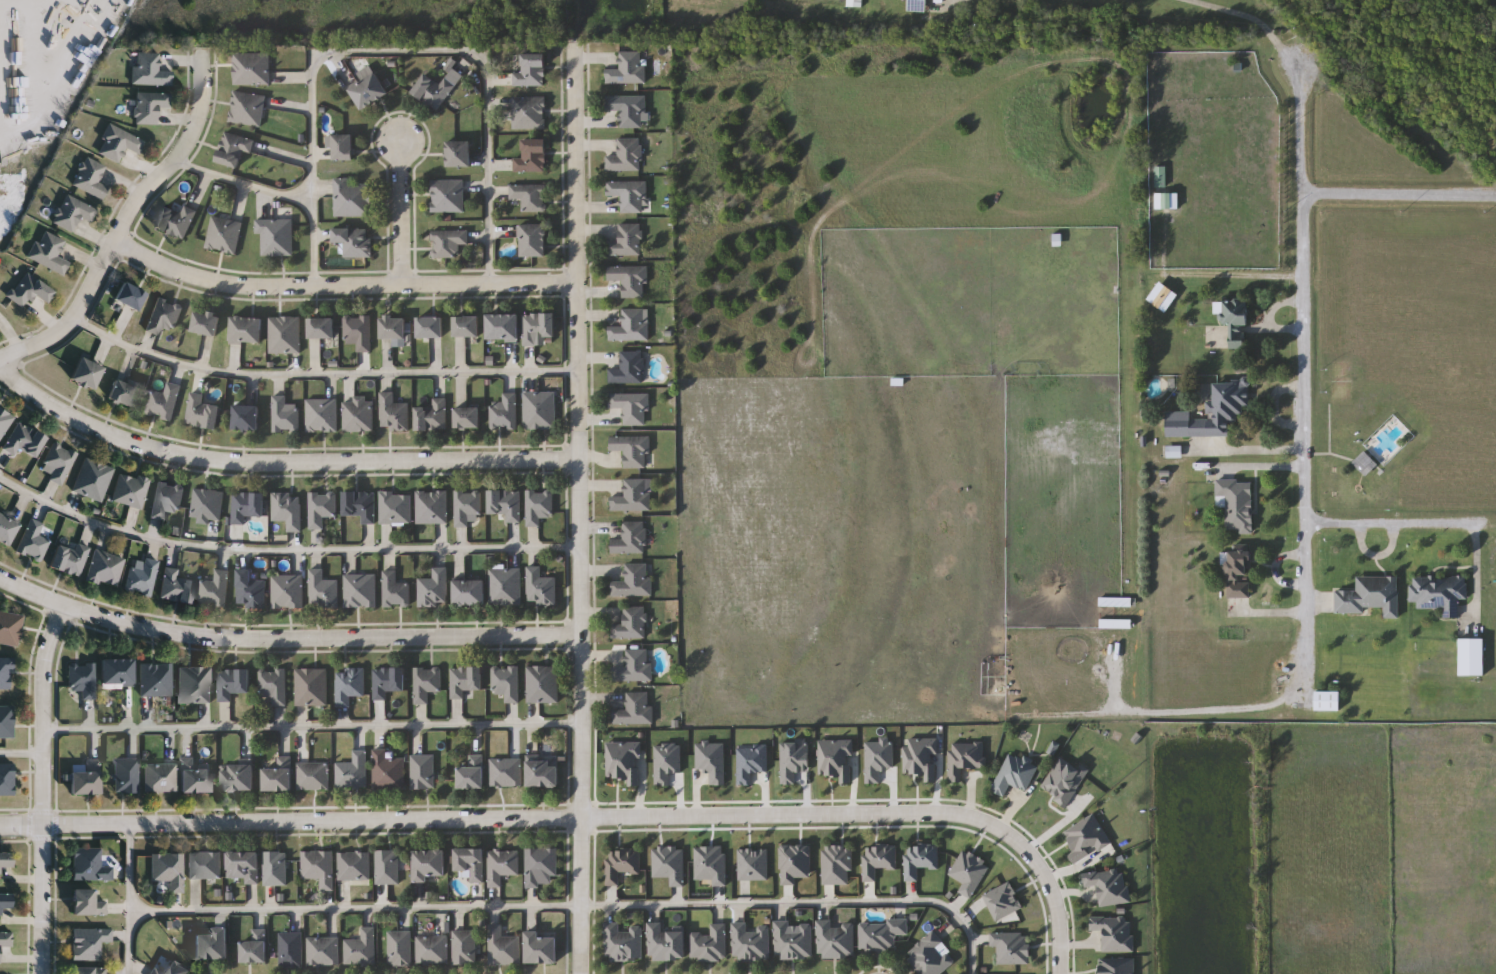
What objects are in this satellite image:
building: (918, 6)
road: (1243, 15)
road: (399, 52)
building: (252, 69)
building: (628, 69)
building: (150, 70)
building: (532, 71)
building: (369, 92)
building: (433, 92)
building: (150, 106)
building: (247, 109)
building: (628, 110)
building: (530, 113)
building: (119, 143)
building: (343, 148)
building: (234, 149)
building: (459, 154)
building: (626, 156)
building: (532, 157)
building: (1160, 177)
building: (92, 178)
road: (243, 182)
building: (630, 195)
road: (1398, 196)
building: (448, 197)
building: (530, 197)
building: (352, 199)
building: (1167, 202)
building: (73, 213)
road: (401, 213)
building: (177, 221)
road: (123, 223)
building: (224, 235)
building: (276, 236)
building: (534, 240)
building: (354, 241)
building: (626, 241)
building: (448, 243)
building: (49, 252)
road: (1236, 273)
building: (630, 280)
road: (339, 286)
building: (30, 289)
building: (130, 295)
building: (164, 315)
building: (1235, 320)
building: (206, 323)
building: (466, 326)
building: (503, 326)
building: (630, 326)
building: (393, 327)
building: (430, 327)
building: (537, 327)
building: (321, 328)
building: (246, 330)
building: (358, 331)
building: (285, 335)
building: (629, 368)
building: (87, 373)
road: (320, 373)
road: (1305, 378)
building: (124, 393)
building: (164, 402)
building: (632, 408)
building: (540, 411)
building: (504, 412)
building: (1212, 412)
building: (203, 413)
building: (394, 413)
building: (359, 414)
building: (285, 415)
building: (322, 416)
building: (432, 416)
building: (246, 418)
building: (468, 418)
building: (5, 421)
building: (24, 440)
building: (632, 451)
building: (59, 463)
building: (1365, 463)
road: (276, 464)
building: (94, 480)
building: (130, 490)
building: (633, 496)
building: (167, 500)
building: (506, 504)
building: (1237, 505)
building: (208, 506)
building: (247, 506)
building: (361, 506)
building: (467, 507)
building: (539, 507)
building: (432, 508)
building: (396, 509)
building: (288, 510)
building: (321, 510)
road: (579, 511)
road: (1400, 524)
building: (6, 529)
building: (631, 539)
building: (34, 542)
road: (283, 550)
building: (70, 560)
building: (105, 569)
road: (1474, 574)
building: (142, 576)
building: (1238, 576)
building: (634, 581)
building: (176, 587)
building: (506, 588)
building: (541, 588)
building: (434, 589)
building: (215, 590)
building: (323, 590)
building: (250, 591)
building: (361, 591)
building: (395, 591)
building: (288, 592)
building: (470, 592)
building: (1439, 594)
building: (1371, 597)
building: (631, 624)
building: (10, 628)
road: (285, 640)
building: (635, 666)
building: (118, 672)
building: (6, 673)
building: (83, 679)
building: (156, 680)
building: (465, 681)
building: (388, 682)
building: (233, 683)
building: (427, 683)
building: (507, 683)
building: (543, 684)
building: (195, 685)
building: (274, 686)
building: (349, 686)
building: (312, 687)
building: (1328, 701)
building: (635, 709)
road: (1181, 709)
building: (7, 721)
road: (313, 725)
road: (22, 752)
building: (354, 771)
building: (388, 771)
building: (423, 772)
building: (472, 772)
building: (506, 772)
building: (543, 774)
building: (127, 775)
building: (279, 776)
building: (314, 776)
building: (161, 777)
building: (195, 777)
building: (87, 778)
building: (7, 779)
building: (238, 779)
road: (44, 787)
road: (873, 815)
road: (290, 822)
building: (6, 860)
building: (471, 863)
building: (90, 864)
building: (429, 865)
building: (621, 865)
building: (205, 866)
building: (354, 866)
building: (502, 866)
building: (244, 867)
building: (319, 867)
building: (388, 867)
building: (542, 867)
building: (170, 869)
building: (275, 869)
road: (131, 899)
building: (6, 902)
building: (87, 902)
road: (577, 905)
building: (881, 935)
building: (5, 940)
building: (836, 940)
building: (793, 941)
building: (90, 942)
building: (623, 943)
building: (750, 943)
building: (666, 944)
building: (710, 944)
building: (212, 945)
building: (503, 947)
building: (432, 948)
building: (465, 948)
building: (542, 948)
building: (255, 949)
building: (362, 949)
building: (400, 949)
building: (291, 950)
building: (323, 952)
building: (931, 956)
building: (177, 969)
building: (89, 971)
building: (156, 972)

